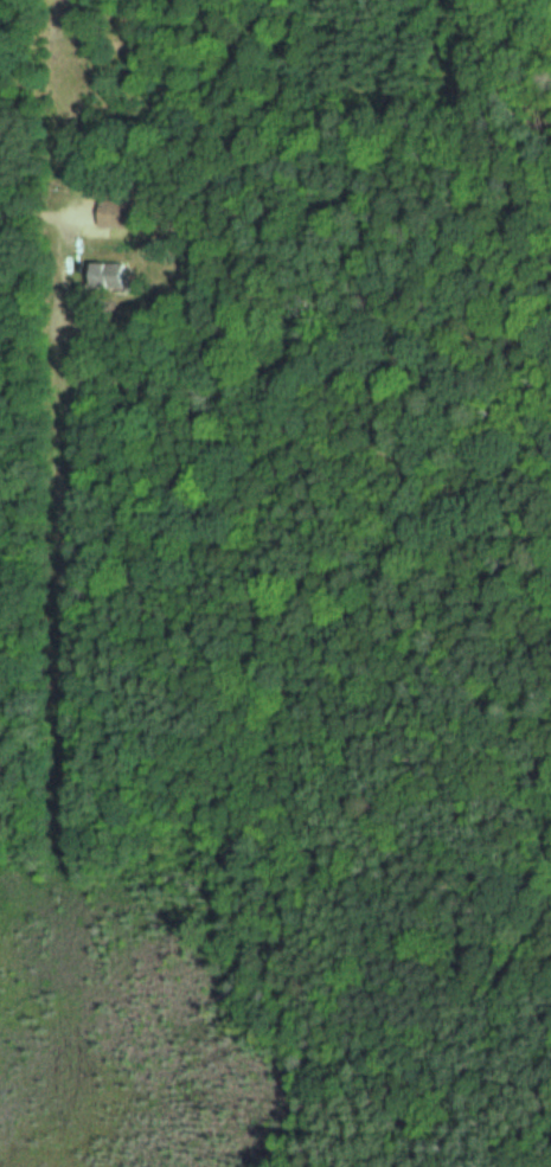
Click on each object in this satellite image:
building: (113, 213)
building: (103, 274)

